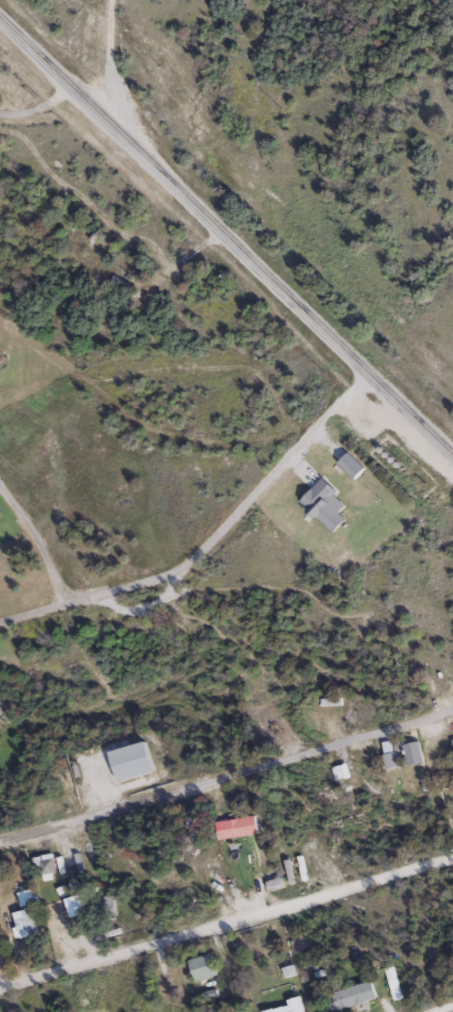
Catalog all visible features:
road: (110, 60)
road: (37, 106)
road: (105, 224)
road: (227, 236)
building: (324, 501)
road: (211, 542)
road: (38, 544)
building: (452, 731)
building: (415, 751)
building: (392, 758)
building: (136, 760)
building: (342, 770)
road: (226, 774)
building: (242, 825)
building: (199, 833)
building: (50, 866)
building: (28, 896)
building: (28, 921)
road: (226, 924)
building: (304, 943)
building: (207, 965)
building: (356, 993)
building: (215, 994)
road: (436, 1007)
building: (281, 1008)

